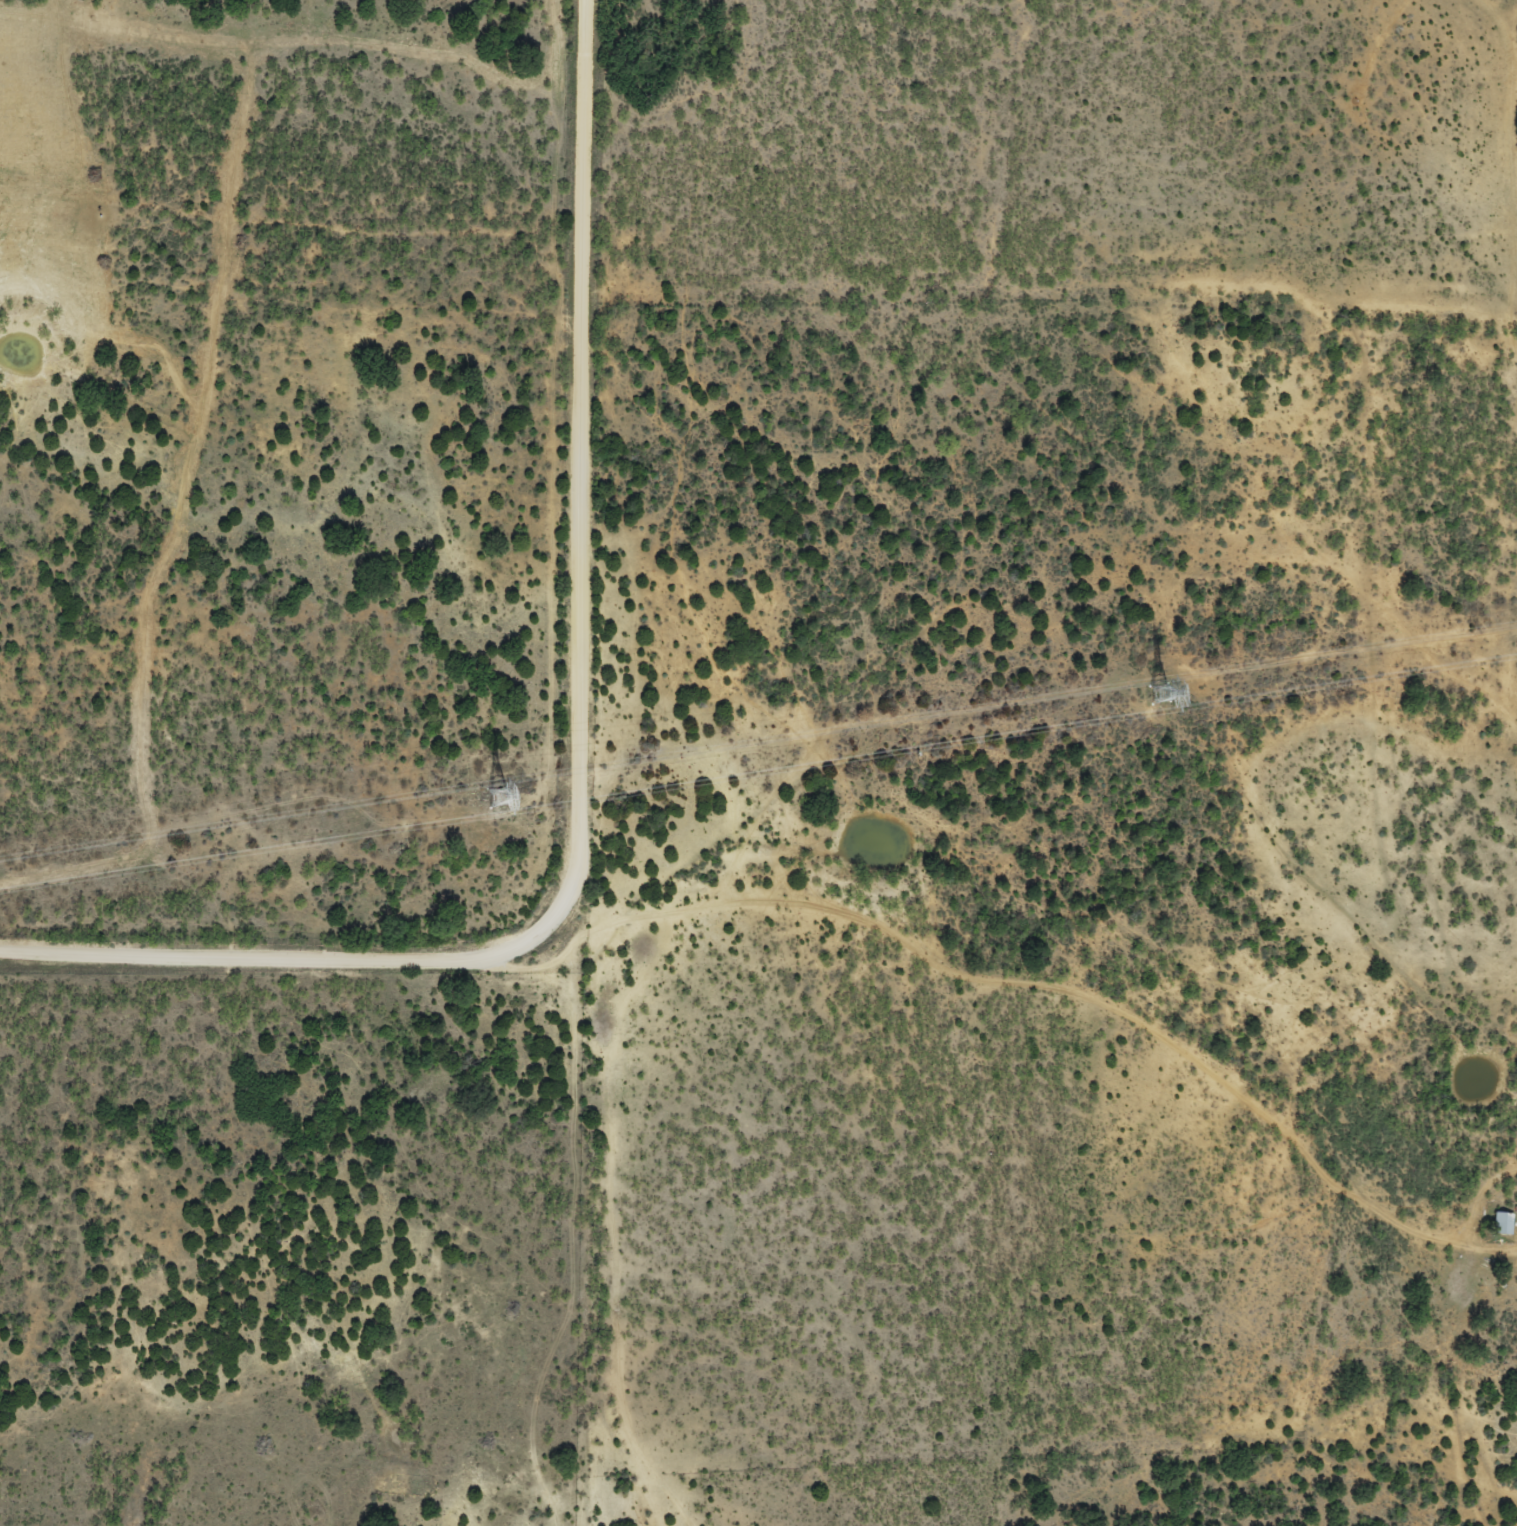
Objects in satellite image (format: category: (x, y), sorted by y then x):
power tower: (1157, 697)
road: (582, 740)
power tower: (495, 800)
road: (1008, 987)
building: (1501, 1224)

